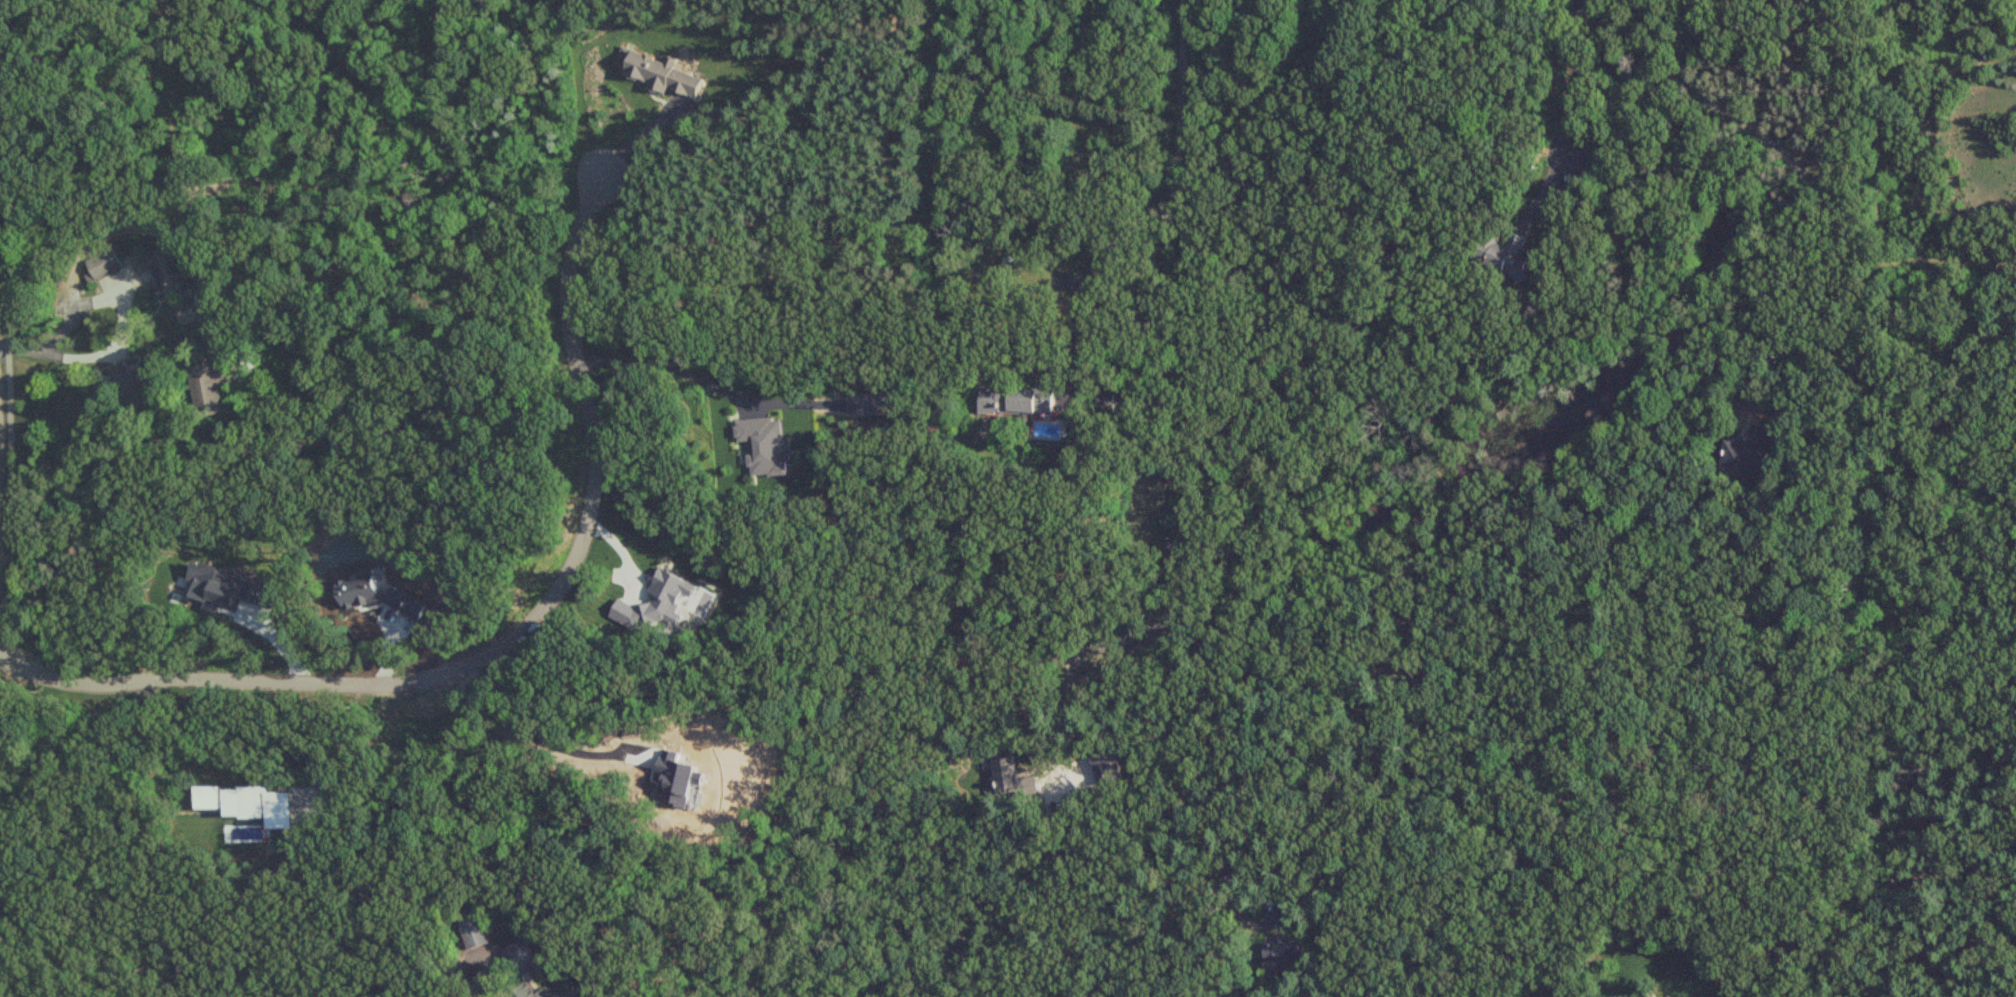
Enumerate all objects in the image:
road: (1574, 74)
road: (1839, 240)
building: (1502, 254)
building: (100, 265)
building: (164, 274)
road: (9, 303)
road: (87, 306)
road: (95, 356)
road: (1054, 367)
road: (670, 368)
building: (214, 384)
building: (127, 388)
building: (1015, 402)
road: (1189, 405)
building: (1747, 454)
road: (480, 639)
road: (234, 742)
building: (1009, 778)
building: (474, 934)
building: (1280, 953)
road: (1191, 955)
building: (520, 958)
road: (455, 979)
building: (528, 992)

